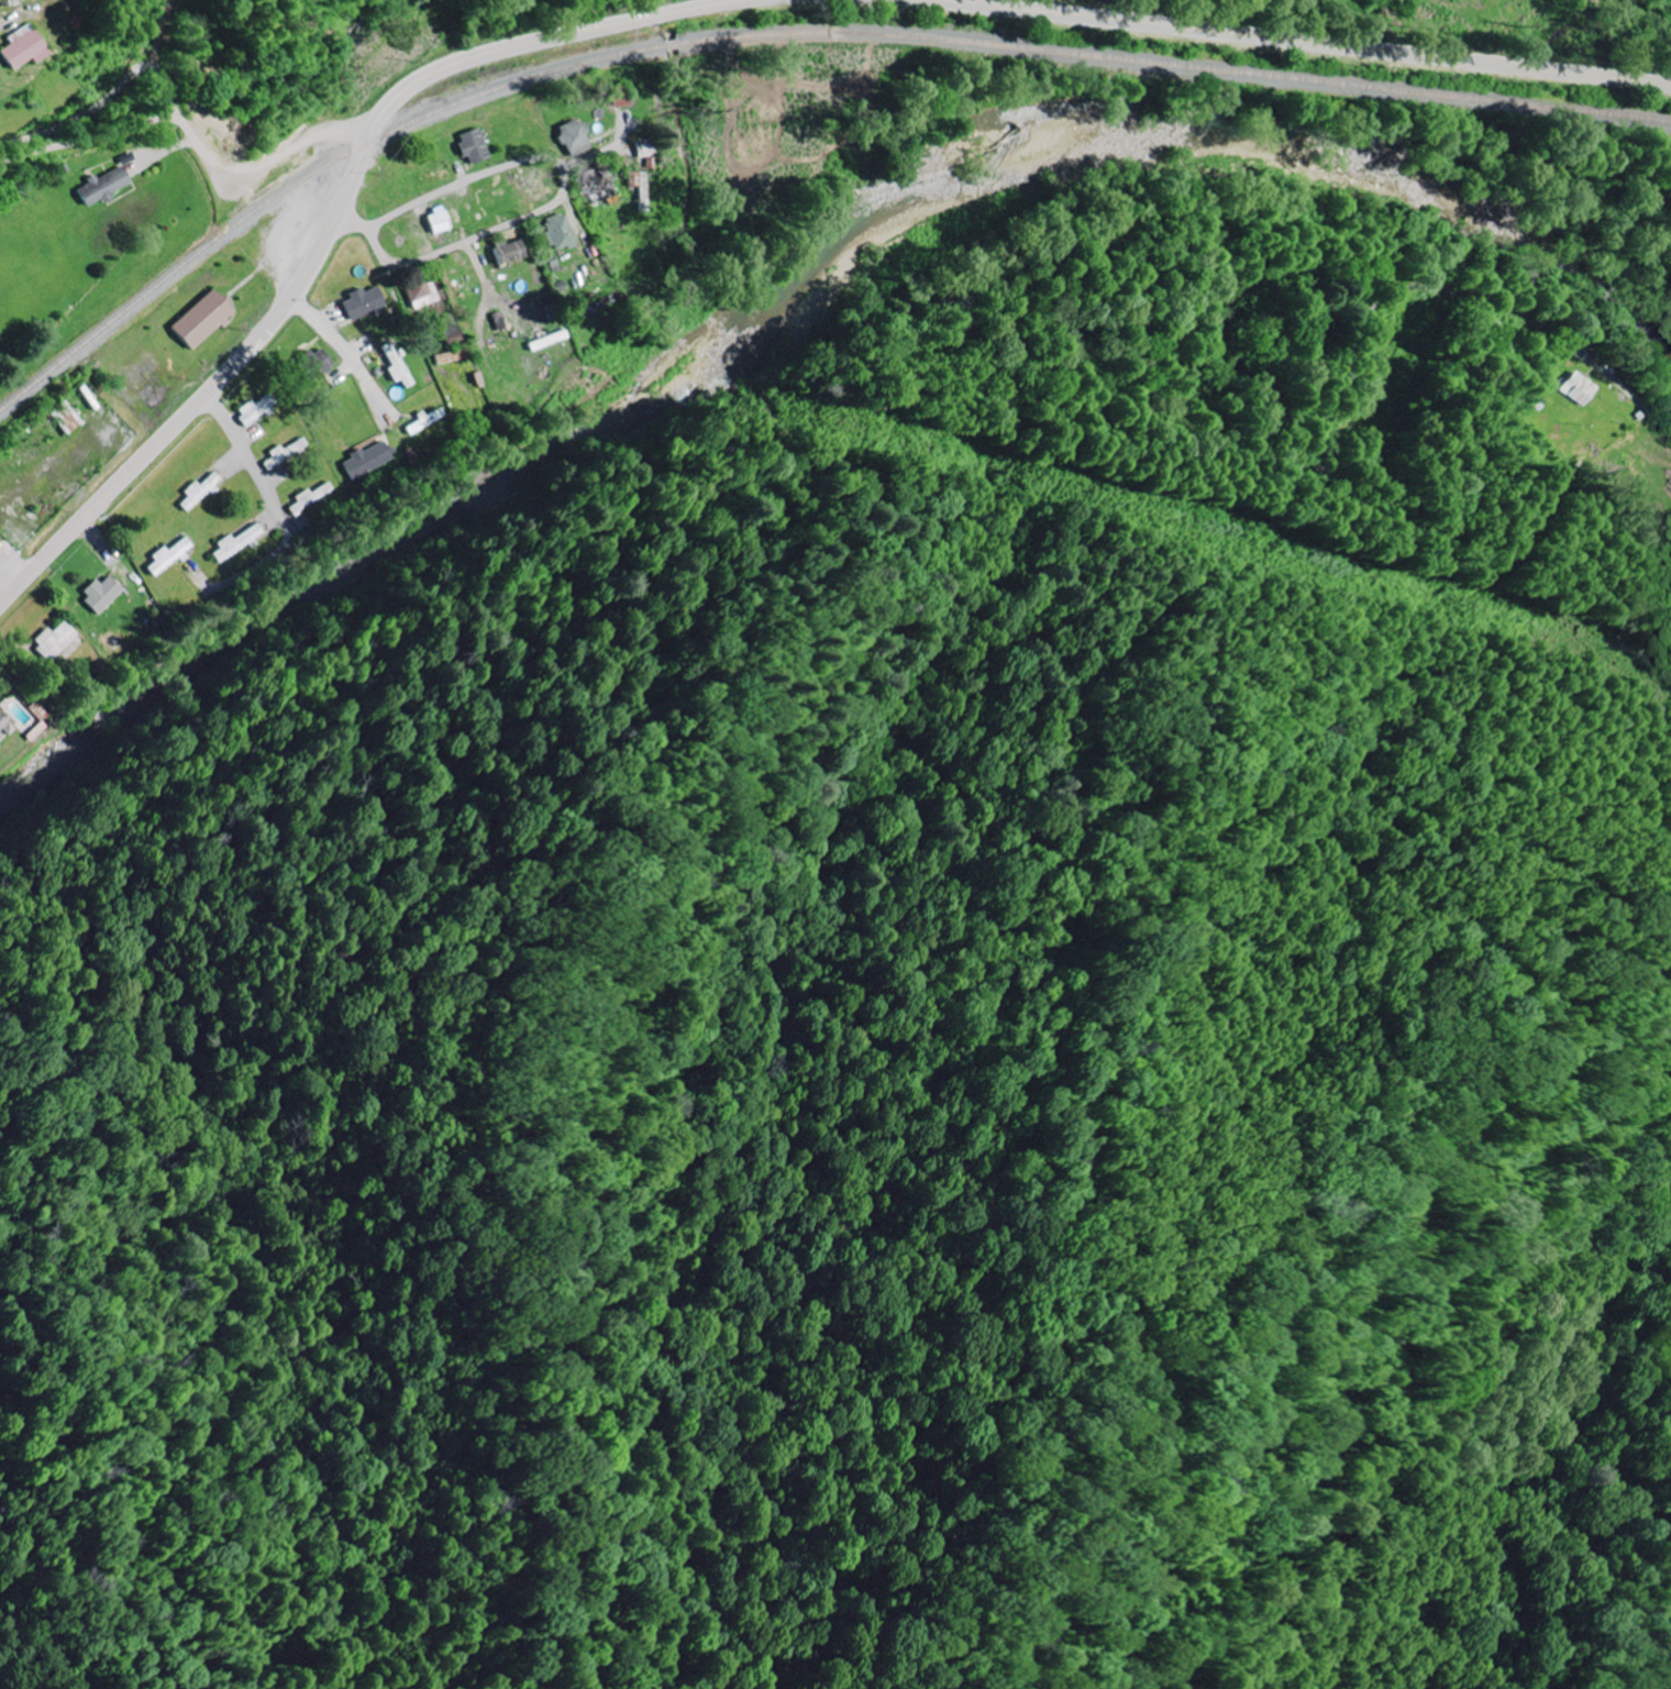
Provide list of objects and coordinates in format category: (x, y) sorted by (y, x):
railway: (784, 34)
road: (1304, 42)
building: (22, 47)
building: (620, 96)
road: (192, 131)
building: (574, 134)
building: (475, 145)
road: (595, 154)
road: (538, 159)
building: (639, 179)
building: (107, 186)
building: (441, 222)
road: (335, 223)
building: (560, 231)
building: (511, 252)
road: (387, 257)
building: (421, 289)
river: (805, 290)
building: (364, 303)
road: (1498, 306)
building: (203, 319)
building: (453, 335)
building: (314, 364)
building: (398, 365)
building: (1572, 388)
building: (255, 411)
building: (66, 416)
building: (428, 419)
building: (369, 459)
building: (201, 490)
building: (312, 497)
building: (236, 542)
building: (2, 550)
building: (169, 556)
building: (101, 593)
building: (55, 640)
building: (21, 718)

